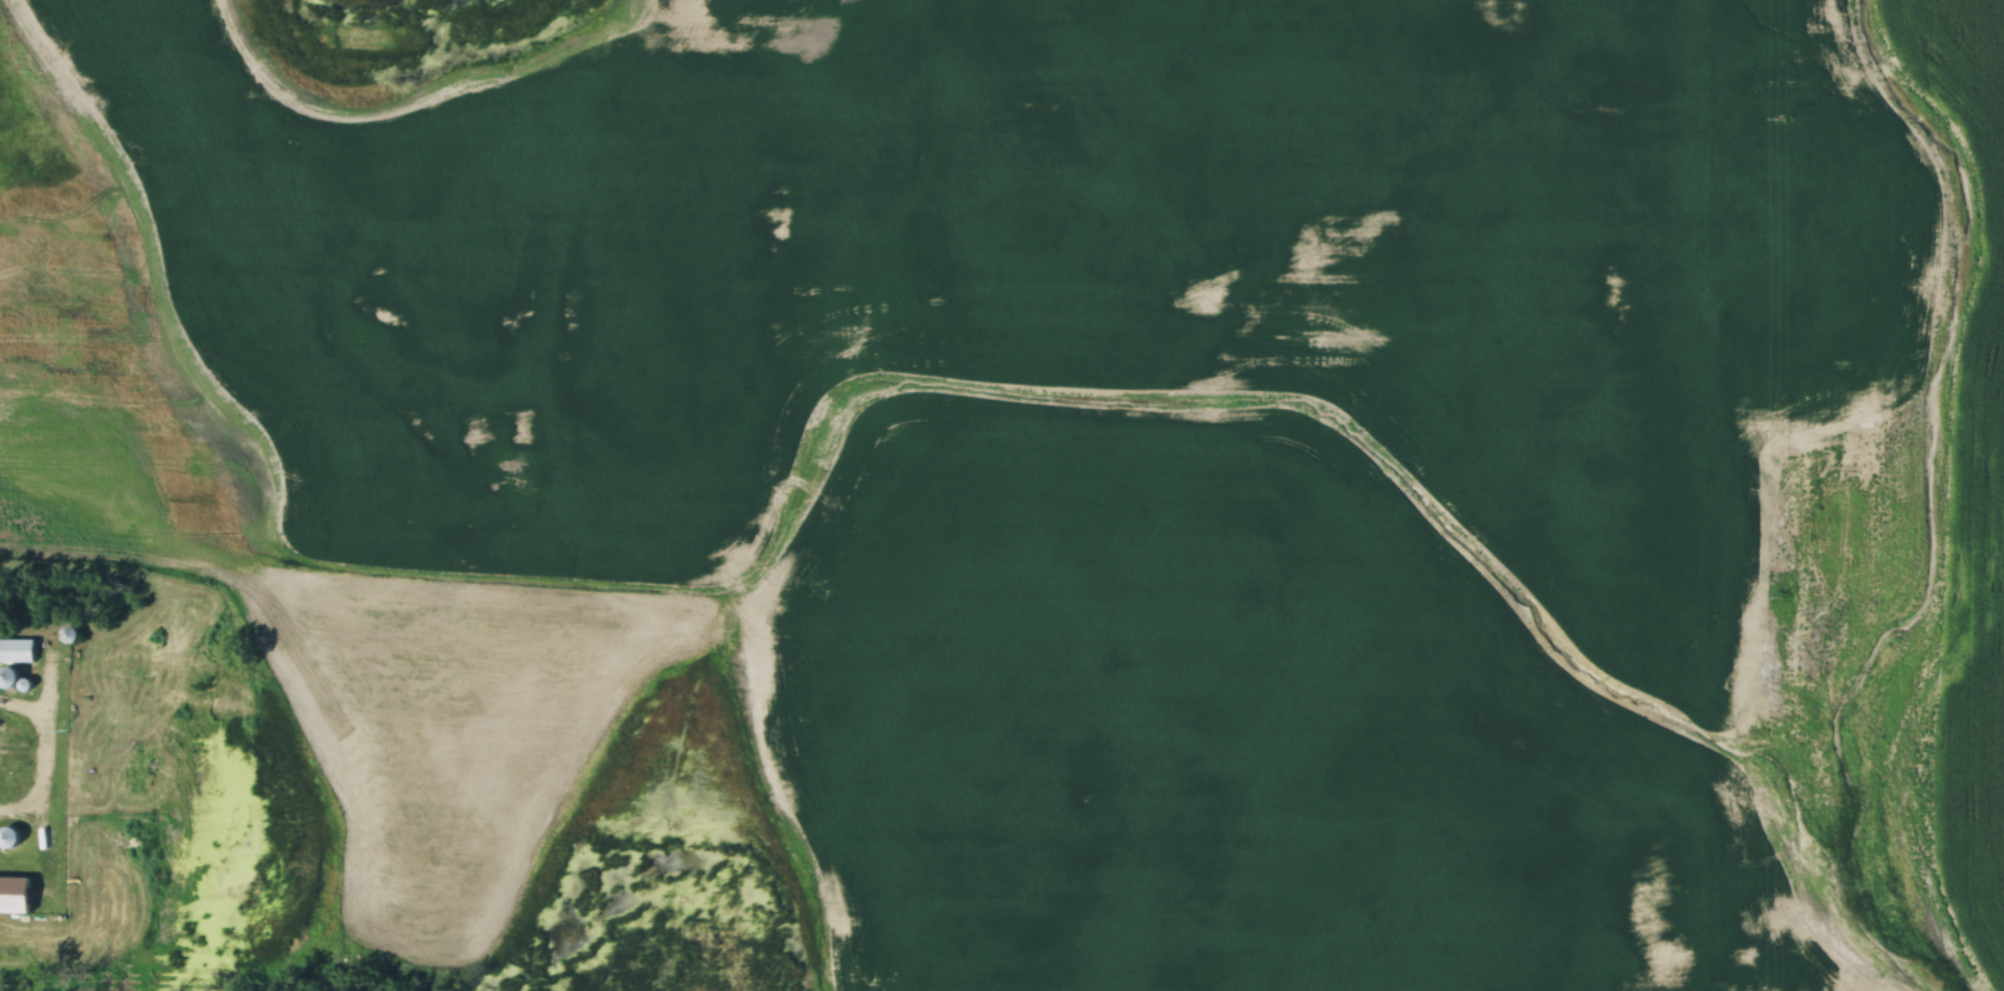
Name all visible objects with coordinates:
power tower: (1788, 121)
power tower: (1782, 597)
building: (68, 635)
building: (17, 651)
building: (119, 667)
building: (10, 678)
road: (34, 745)
building: (73, 767)
building: (75, 802)
building: (45, 819)
building: (10, 836)

